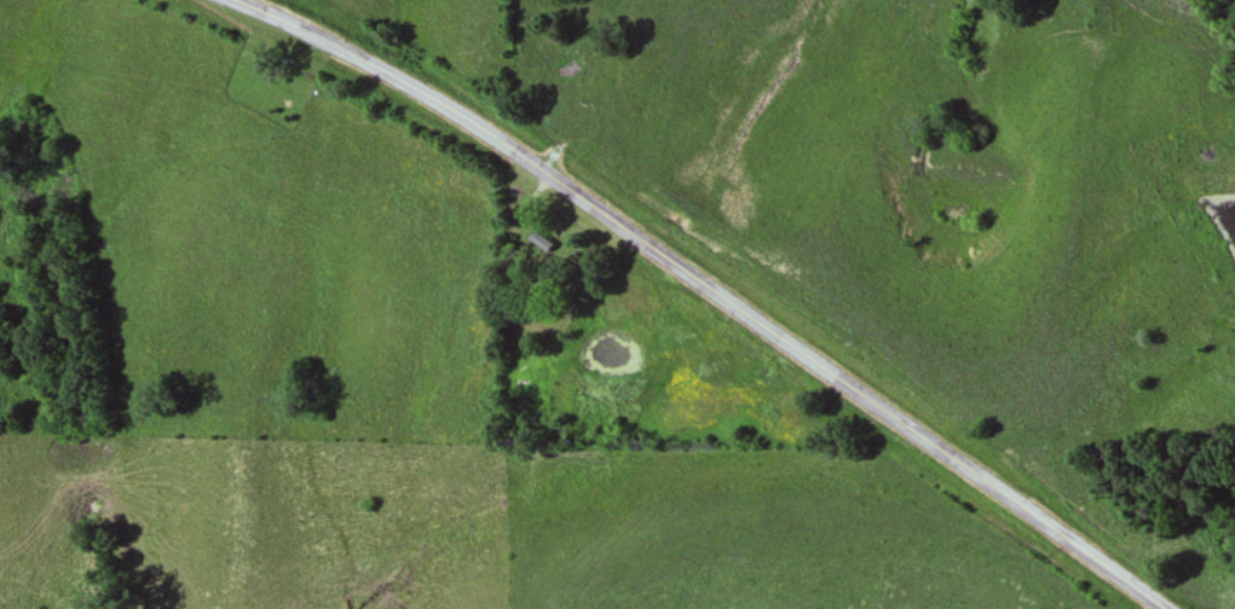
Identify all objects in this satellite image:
building: (548, 249)
road: (706, 284)

